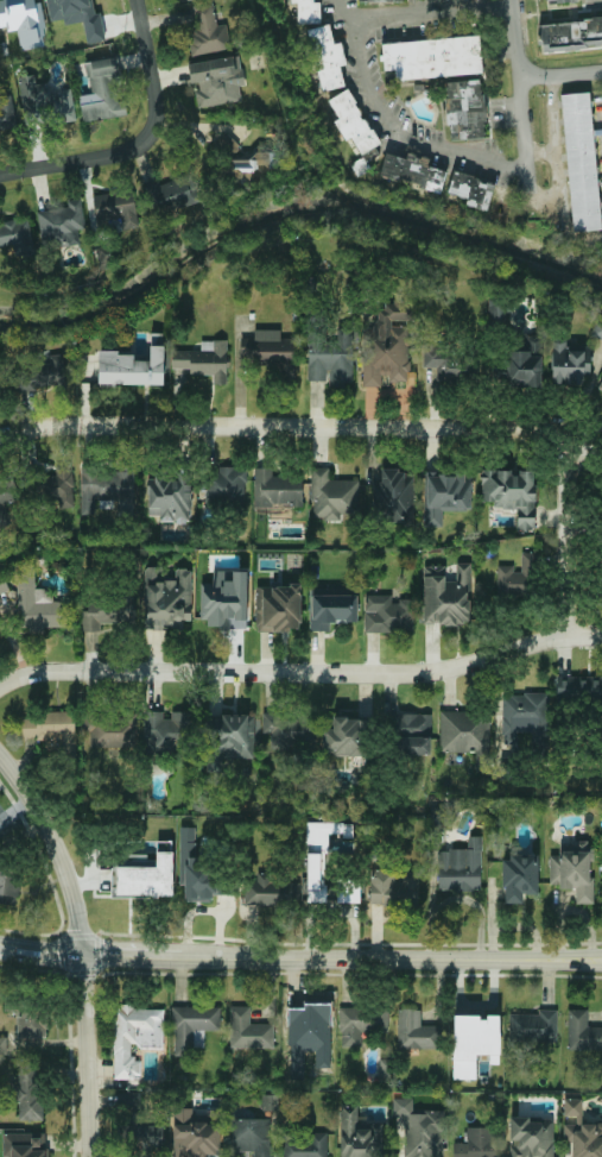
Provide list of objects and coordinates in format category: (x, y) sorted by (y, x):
building: (185, 0)
building: (379, 0)
building: (562, 1)
building: (308, 11)
building: (24, 21)
building: (208, 32)
building: (571, 34)
building: (327, 57)
building: (432, 57)
road: (153, 68)
road: (363, 68)
road: (560, 73)
building: (217, 81)
building: (101, 92)
road: (520, 96)
building: (45, 102)
building: (465, 108)
building: (7, 113)
building: (353, 121)
building: (581, 162)
road: (80, 164)
building: (252, 164)
building: (412, 171)
building: (471, 189)
building: (176, 193)
building: (115, 210)
building: (62, 225)
building: (17, 237)
building: (496, 312)
building: (597, 329)
building: (267, 346)
building: (332, 359)
building: (204, 360)
building: (570, 364)
building: (132, 367)
building: (524, 370)
building: (44, 375)
building: (0, 381)
building: (601, 388)
road: (378, 427)
building: (226, 484)
building: (104, 486)
building: (59, 488)
building: (277, 489)
building: (512, 493)
building: (332, 496)
building: (445, 496)
building: (171, 497)
building: (395, 497)
building: (7, 498)
building: (518, 577)
building: (446, 596)
building: (169, 599)
building: (37, 602)
building: (278, 608)
building: (332, 608)
building: (107, 612)
building: (389, 614)
road: (300, 669)
building: (578, 687)
building: (524, 715)
building: (51, 730)
building: (166, 730)
building: (284, 730)
building: (112, 731)
building: (412, 731)
building: (467, 735)
building: (346, 736)
building: (227, 740)
building: (0, 826)
road: (59, 848)
building: (319, 855)
building: (461, 867)
building: (196, 869)
building: (572, 869)
building: (519, 876)
building: (8, 884)
building: (393, 888)
building: (272, 891)
building: (348, 891)
road: (45, 951)
traffic signals: (91, 958)
road: (138, 960)
road: (392, 964)
building: (31, 1021)
building: (361, 1023)
building: (191, 1025)
building: (533, 1026)
building: (248, 1030)
building: (416, 1031)
building: (582, 1032)
building: (134, 1037)
building: (473, 1042)
building: (4, 1045)
road: (90, 1057)
building: (28, 1093)
building: (270, 1102)
building: (420, 1130)
building: (582, 1132)
building: (194, 1134)
building: (359, 1134)
building: (251, 1136)
building: (531, 1137)
building: (480, 1143)
building: (24, 1144)
building: (304, 1144)

